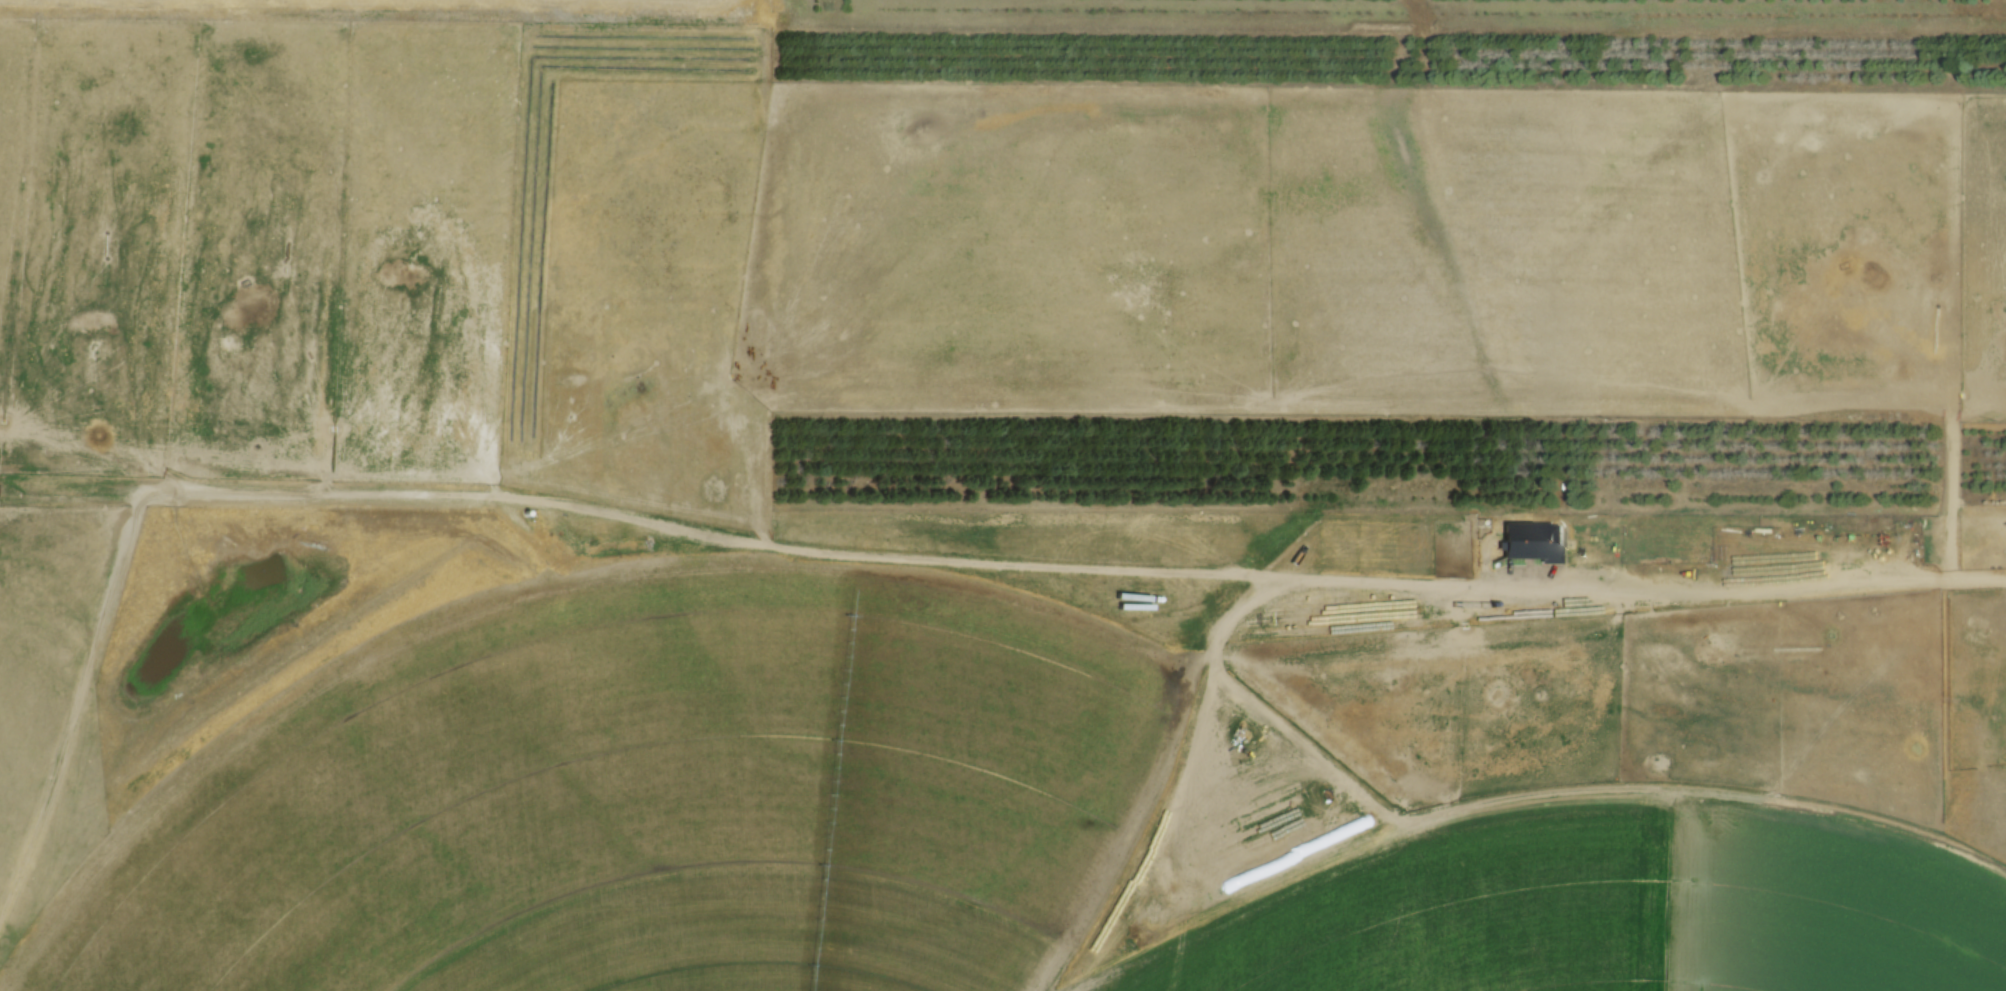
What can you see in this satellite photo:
crop: (497, 1)
crop: (933, 246)
road: (1000, 560)
road: (1716, 795)
crop: (923, 837)

